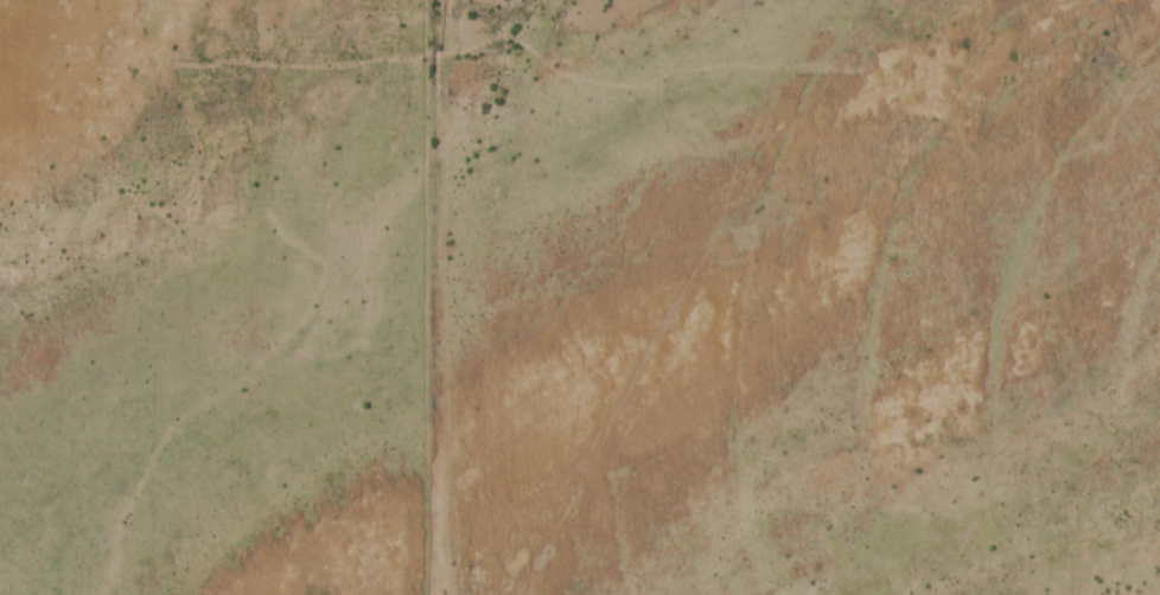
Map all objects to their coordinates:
crop: (836, 302)

